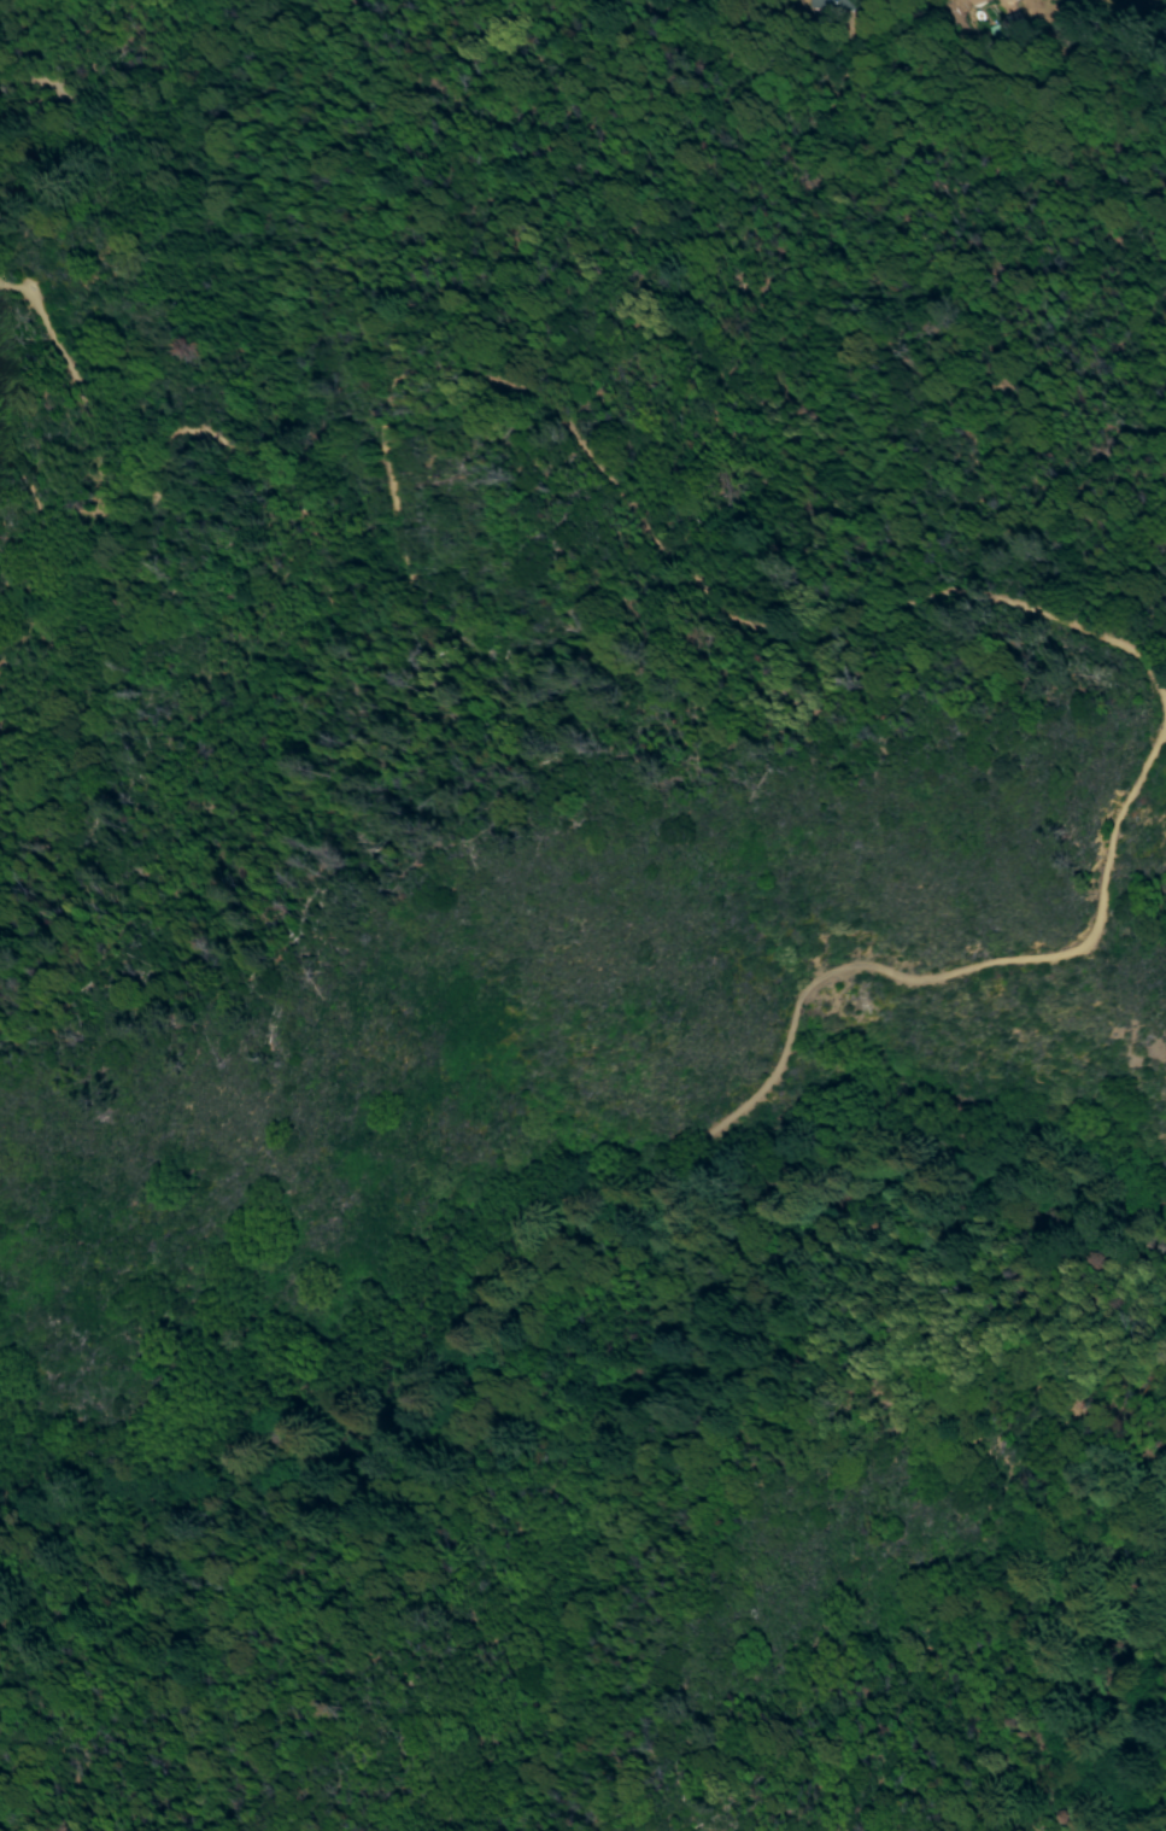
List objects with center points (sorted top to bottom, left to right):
building: (986, 0)
building: (820, 2)
road: (54, 86)
road: (592, 461)
road: (90, 467)
road: (150, 514)
road: (40, 580)
road: (82, 615)
road: (646, 1148)
road: (304, 1404)
road: (1083, 1614)

